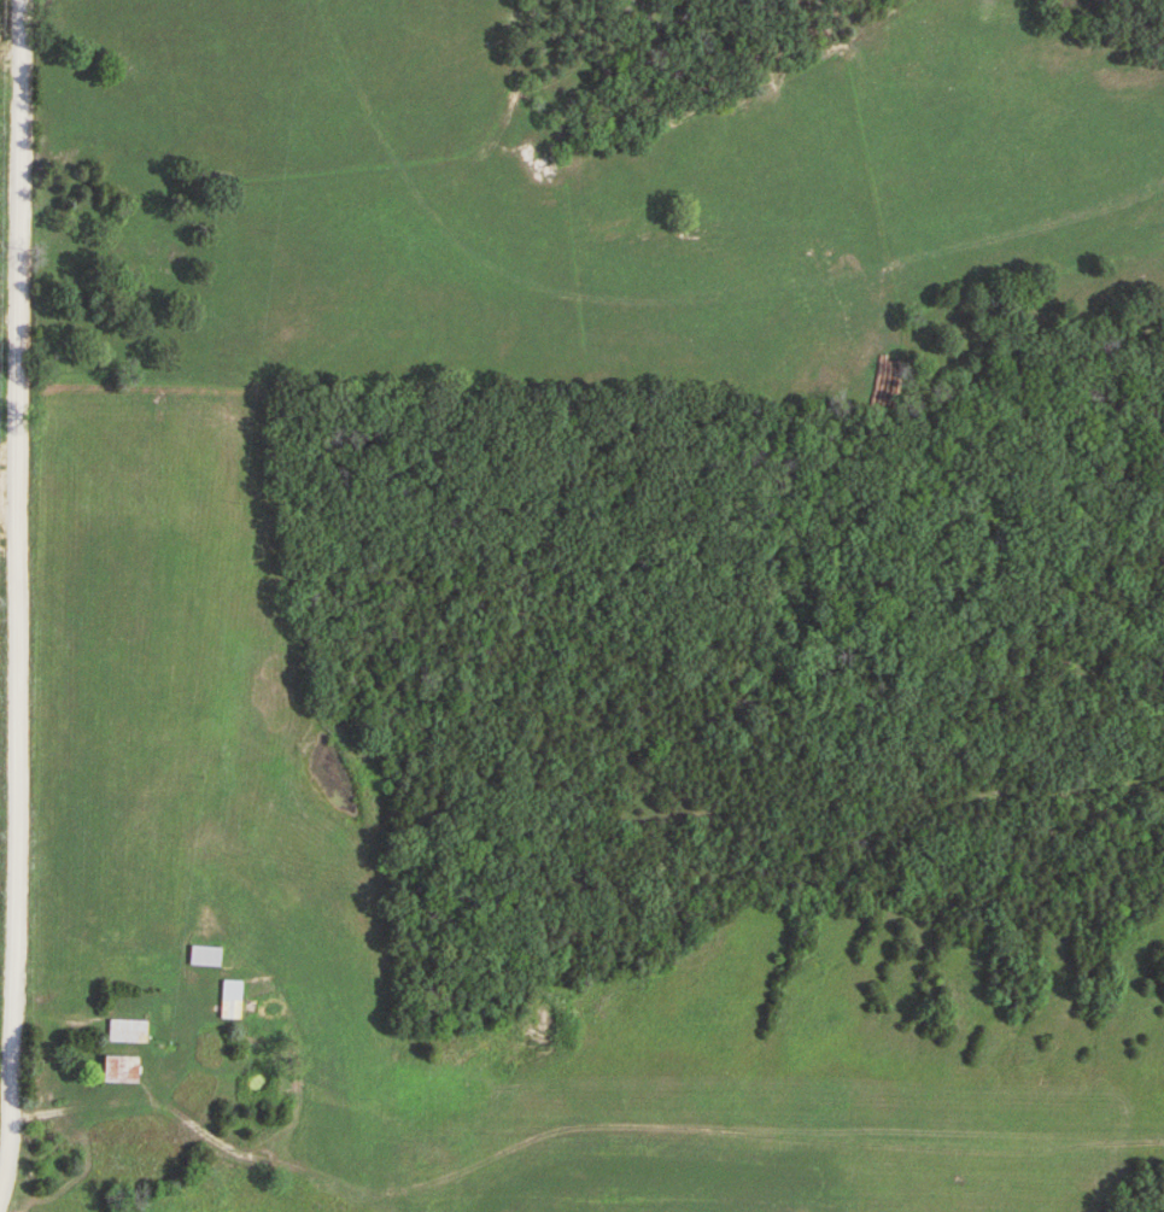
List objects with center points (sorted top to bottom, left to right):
road: (17, 584)
building: (205, 956)
building: (232, 1000)
building: (128, 1032)
building: (119, 1071)

